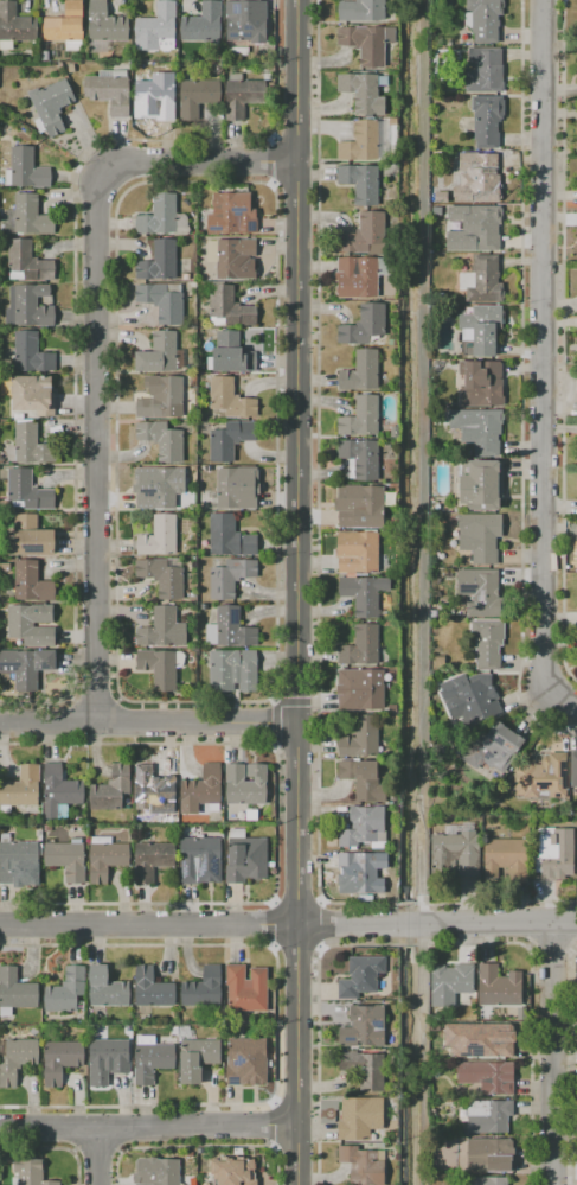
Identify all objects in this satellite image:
rooftop solar panel: (235, 7)
building: (361, 9)
building: (483, 19)
building: (204, 25)
building: (244, 25)
building: (15, 26)
building: (68, 26)
building: (104, 27)
building: (158, 28)
building: (367, 43)
building: (267, 69)
building: (485, 70)
building: (270, 87)
building: (110, 91)
building: (365, 91)
building: (158, 95)
building: (242, 95)
building: (198, 97)
building: (51, 107)
building: (487, 119)
building: (361, 141)
road: (273, 161)
building: (26, 171)
building: (481, 176)
building: (361, 183)
road: (273, 190)
rooftop solar panel: (237, 211)
building: (232, 214)
building: (31, 216)
building: (164, 217)
rooftop solar panel: (251, 225)
rooftop solar panel: (213, 228)
building: (475, 228)
building: (367, 236)
building: (233, 257)
building: (27, 262)
building: (159, 262)
building: (360, 276)
building: (482, 280)
road: (75, 293)
building: (164, 301)
building: (30, 306)
building: (229, 307)
building: (364, 325)
building: (480, 330)
road: (564, 342)
road: (95, 349)
building: (31, 353)
building: (162, 353)
building: (231, 355)
road: (543, 355)
building: (361, 372)
building: (481, 383)
road: (521, 384)
building: (33, 395)
building: (162, 397)
building: (230, 399)
building: (361, 416)
building: (479, 429)
building: (162, 440)
building: (230, 440)
building: (30, 445)
building: (1, 459)
building: (360, 459)
building: (480, 486)
building: (159, 488)
building: (237, 488)
building: (27, 491)
building: (360, 505)
building: (32, 536)
building: (480, 536)
building: (159, 537)
building: (229, 537)
building: (358, 552)
building: (4, 567)
building: (164, 576)
building: (230, 578)
road: (318, 578)
building: (31, 582)
rooftop solar panel: (467, 588)
road: (297, 592)
building: (481, 592)
building: (364, 594)
building: (432, 613)
rooftop solar panel: (233, 616)
building: (31, 625)
building: (162, 629)
building: (230, 629)
building: (486, 643)
building: (361, 646)
building: (440, 661)
building: (26, 667)
building: (161, 667)
building: (233, 670)
building: (360, 689)
road: (94, 697)
road: (295, 699)
building: (469, 700)
road: (560, 709)
road: (148, 722)
building: (361, 738)
rooftop solar panel: (496, 740)
building: (493, 747)
rooftop solar panel: (489, 754)
building: (573, 767)
building: (541, 777)
building: (365, 778)
building: (245, 784)
rooftop solar panel: (543, 785)
building: (20, 789)
building: (111, 790)
building: (201, 790)
building: (154, 791)
building: (59, 792)
rooftop solar panel: (558, 796)
road: (277, 823)
building: (364, 828)
building: (556, 853)
building: (454, 854)
building: (105, 858)
building: (246, 858)
building: (66, 859)
building: (506, 859)
building: (152, 860)
building: (200, 860)
building: (19, 864)
rooftop solar panel: (203, 867)
rooftop solar panel: (216, 867)
rooftop solar panel: (185, 869)
building: (361, 873)
road: (297, 900)
road: (575, 919)
road: (322, 924)
road: (149, 925)
road: (274, 925)
road: (437, 925)
road: (530, 925)
road: (425, 943)
road: (552, 948)
road: (297, 949)
building: (360, 976)
building: (450, 983)
building: (499, 987)
building: (203, 988)
building: (246, 988)
building: (107, 989)
building: (152, 989)
building: (15, 990)
building: (65, 992)
road: (277, 1025)
rooftop solar panel: (377, 1025)
building: (364, 1027)
building: (435, 1028)
building: (174, 1031)
rooftop solar panel: (350, 1039)
building: (491, 1040)
building: (195, 1056)
road: (553, 1056)
building: (62, 1059)
building: (150, 1059)
building: (17, 1060)
building: (108, 1060)
building: (246, 1063)
road: (572, 1066)
building: (364, 1069)
building: (488, 1077)
building: (488, 1116)
building: (359, 1117)
road: (274, 1125)
road: (148, 1127)
road: (198, 1146)
road: (53, 1148)
road: (97, 1153)
road: (97, 1155)
building: (489, 1155)
building: (364, 1165)
building: (232, 1171)
building: (30, 1172)
building: (156, 1172)
building: (487, 1180)

